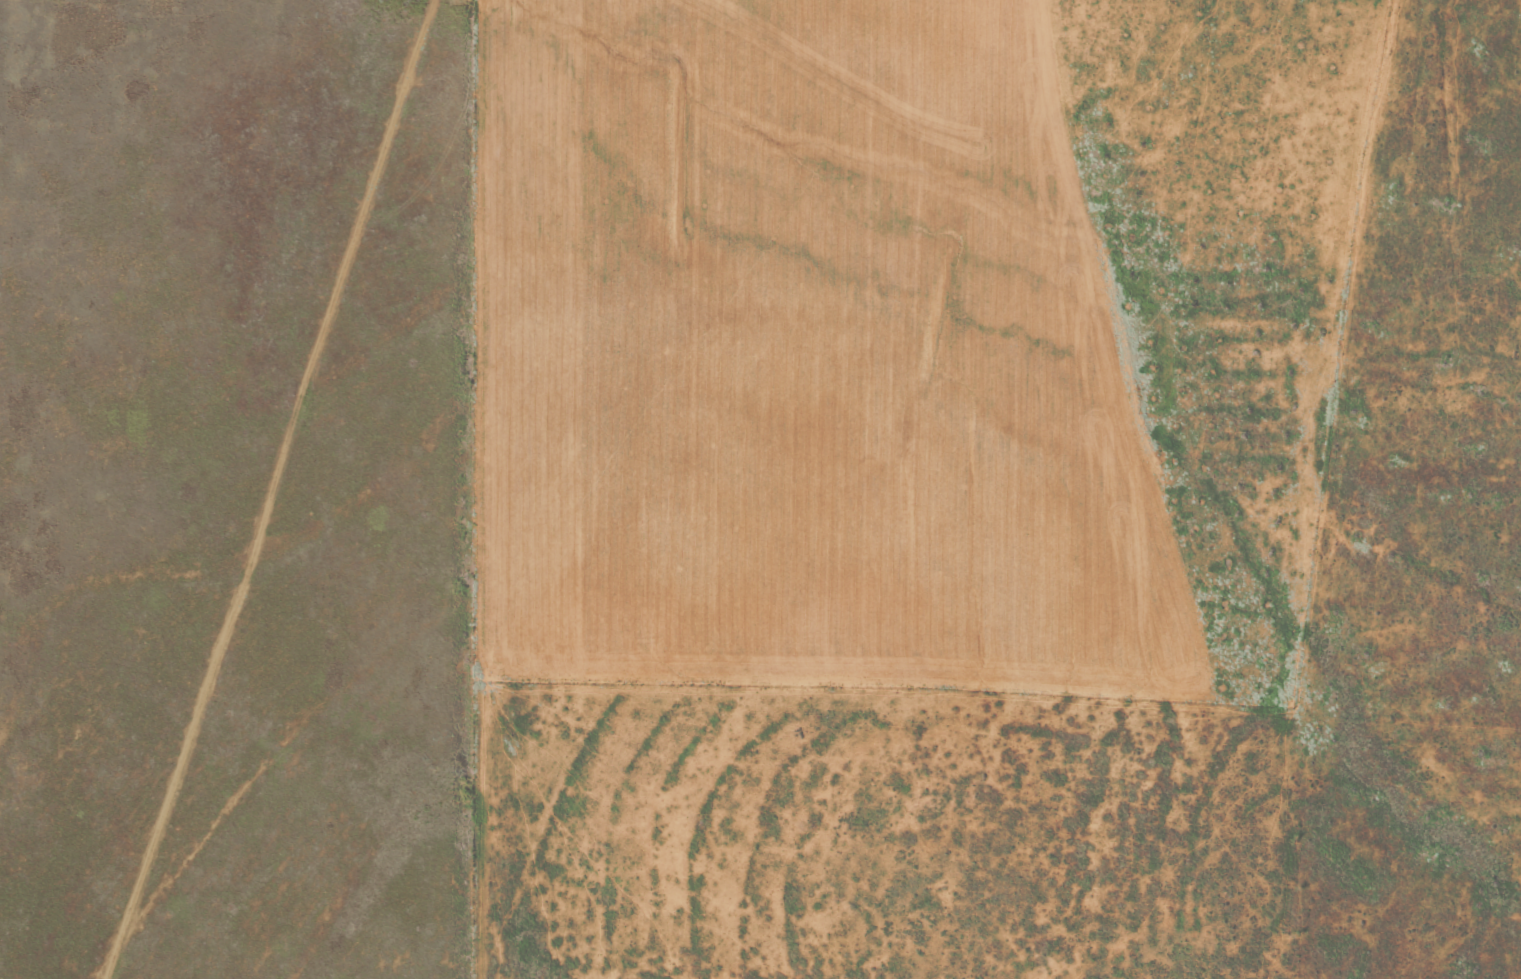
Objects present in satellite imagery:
road: (494, 489)

